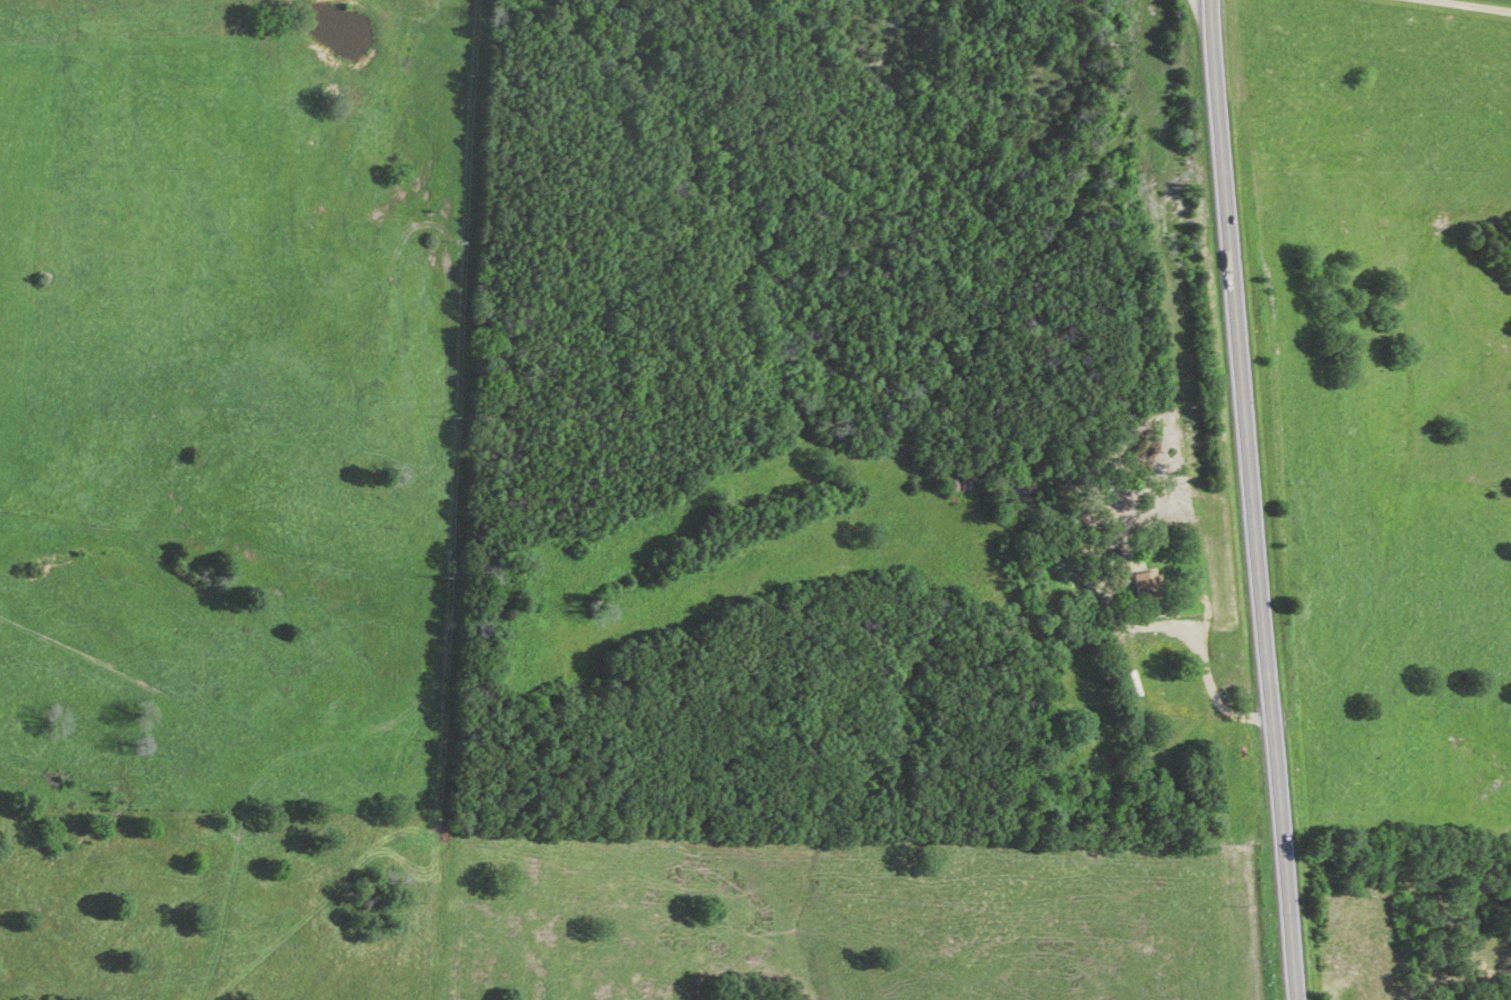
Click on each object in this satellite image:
road: (1255, 500)
building: (1144, 589)

